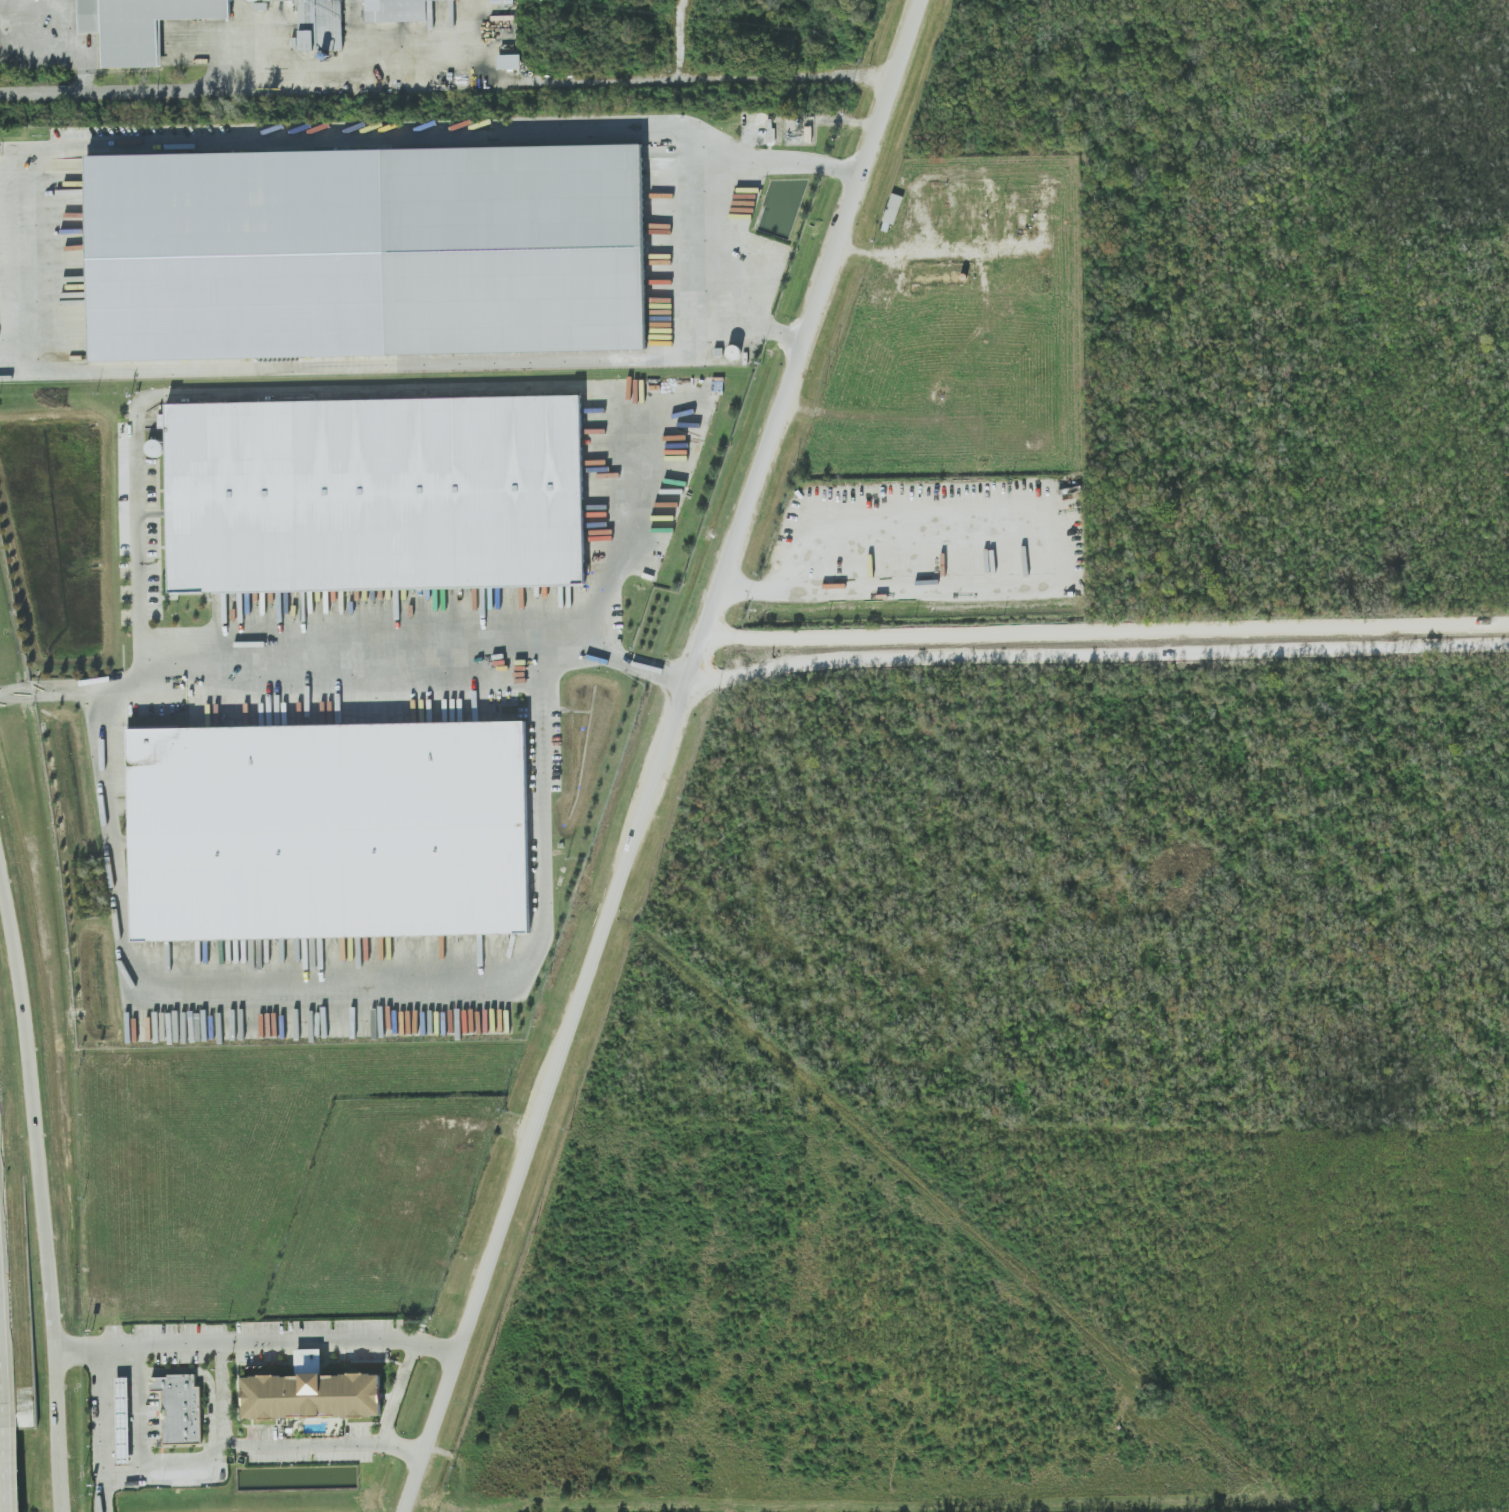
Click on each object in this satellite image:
building: (396, 10)
road: (59, 17)
building: (320, 24)
building: (140, 26)
building: (509, 62)
road: (491, 68)
road: (51, 93)
road: (278, 134)
building: (893, 208)
building: (365, 252)
road: (759, 322)
road: (513, 354)
road: (369, 389)
road: (925, 586)
road: (1108, 635)
road: (1101, 659)
road: (348, 669)
road: (668, 756)
building: (330, 831)
road: (340, 978)
road: (37, 1189)
river: (981, 1220)
road: (285, 1337)
building: (304, 1357)
road: (399, 1390)
road: (223, 1394)
building: (312, 1395)
road: (103, 1404)
road: (141, 1405)
building: (180, 1408)
building: (123, 1420)
road: (266, 1446)
building: (185, 1480)

